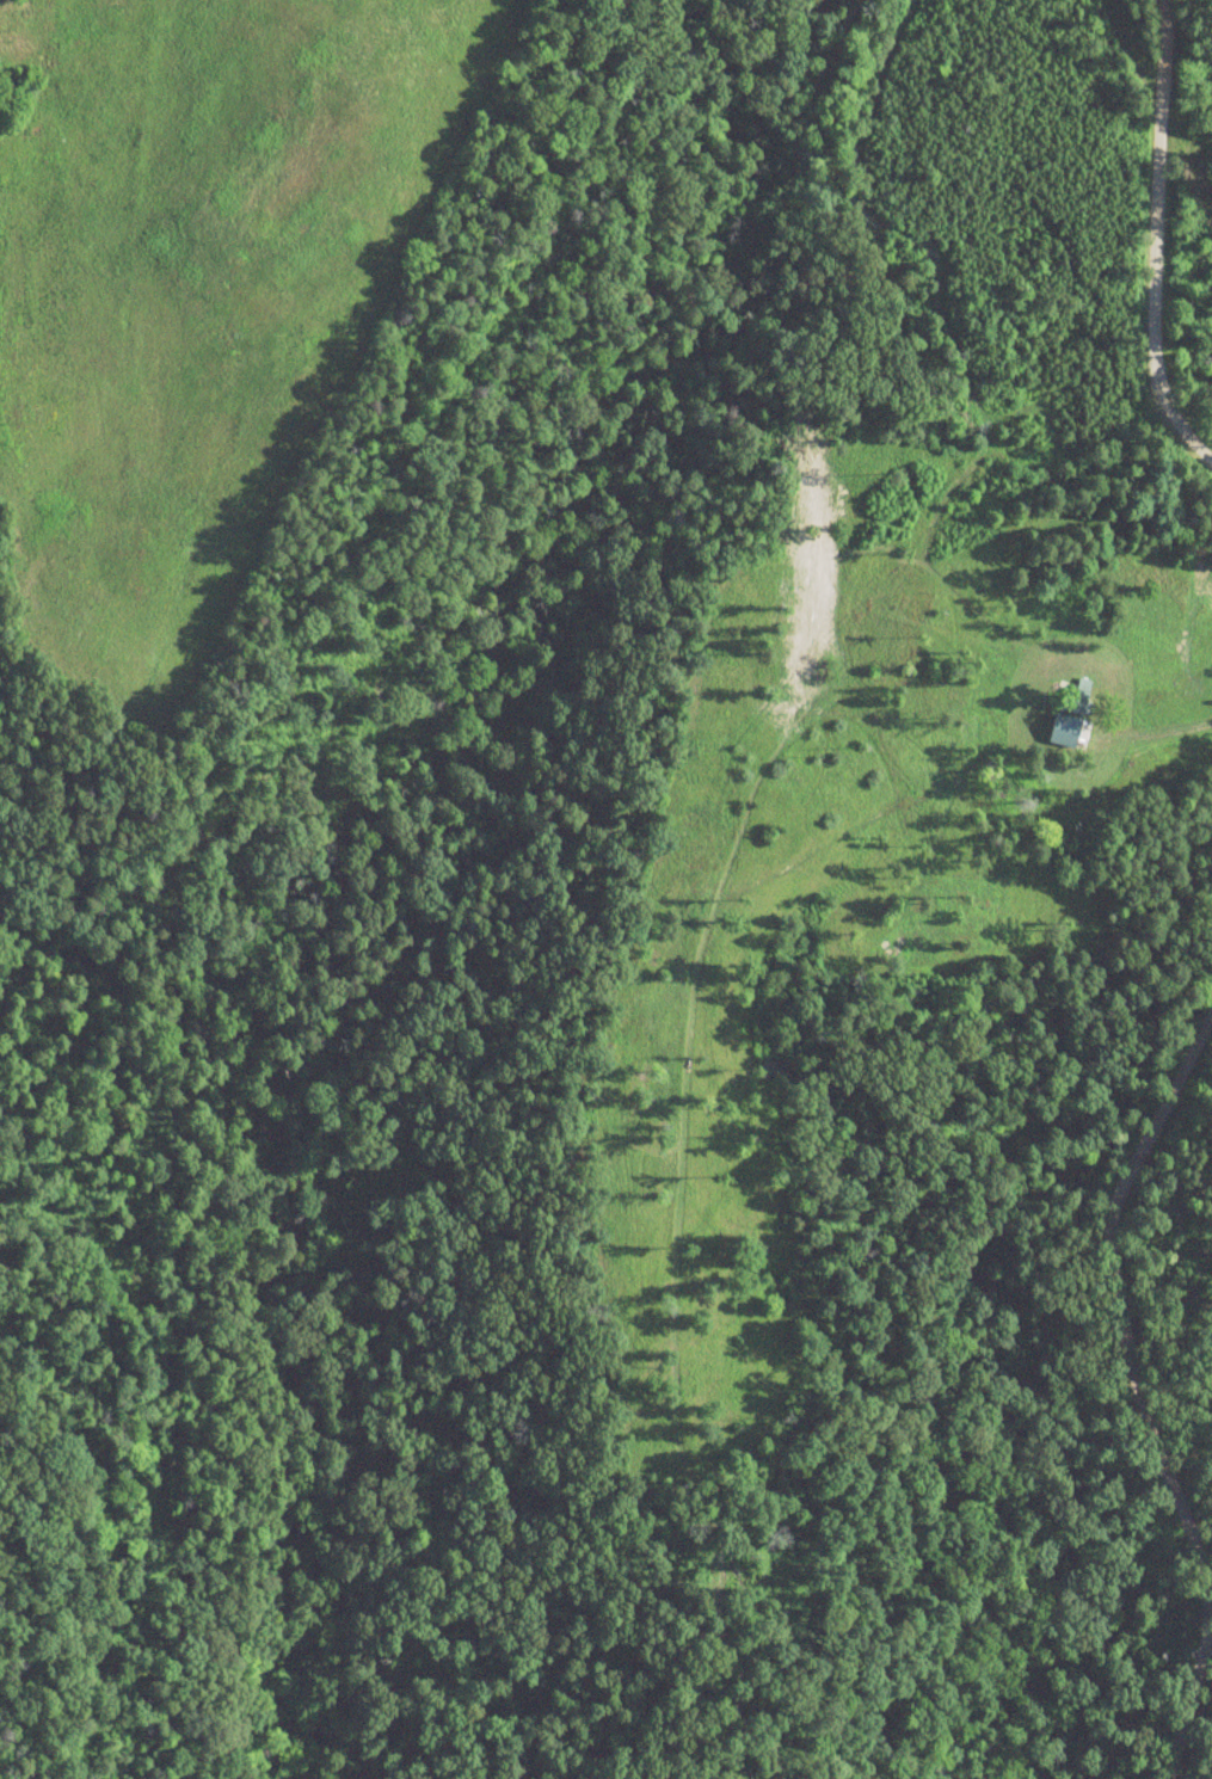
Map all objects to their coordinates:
road: (1152, 245)
building: (1079, 701)
road: (1182, 1232)

